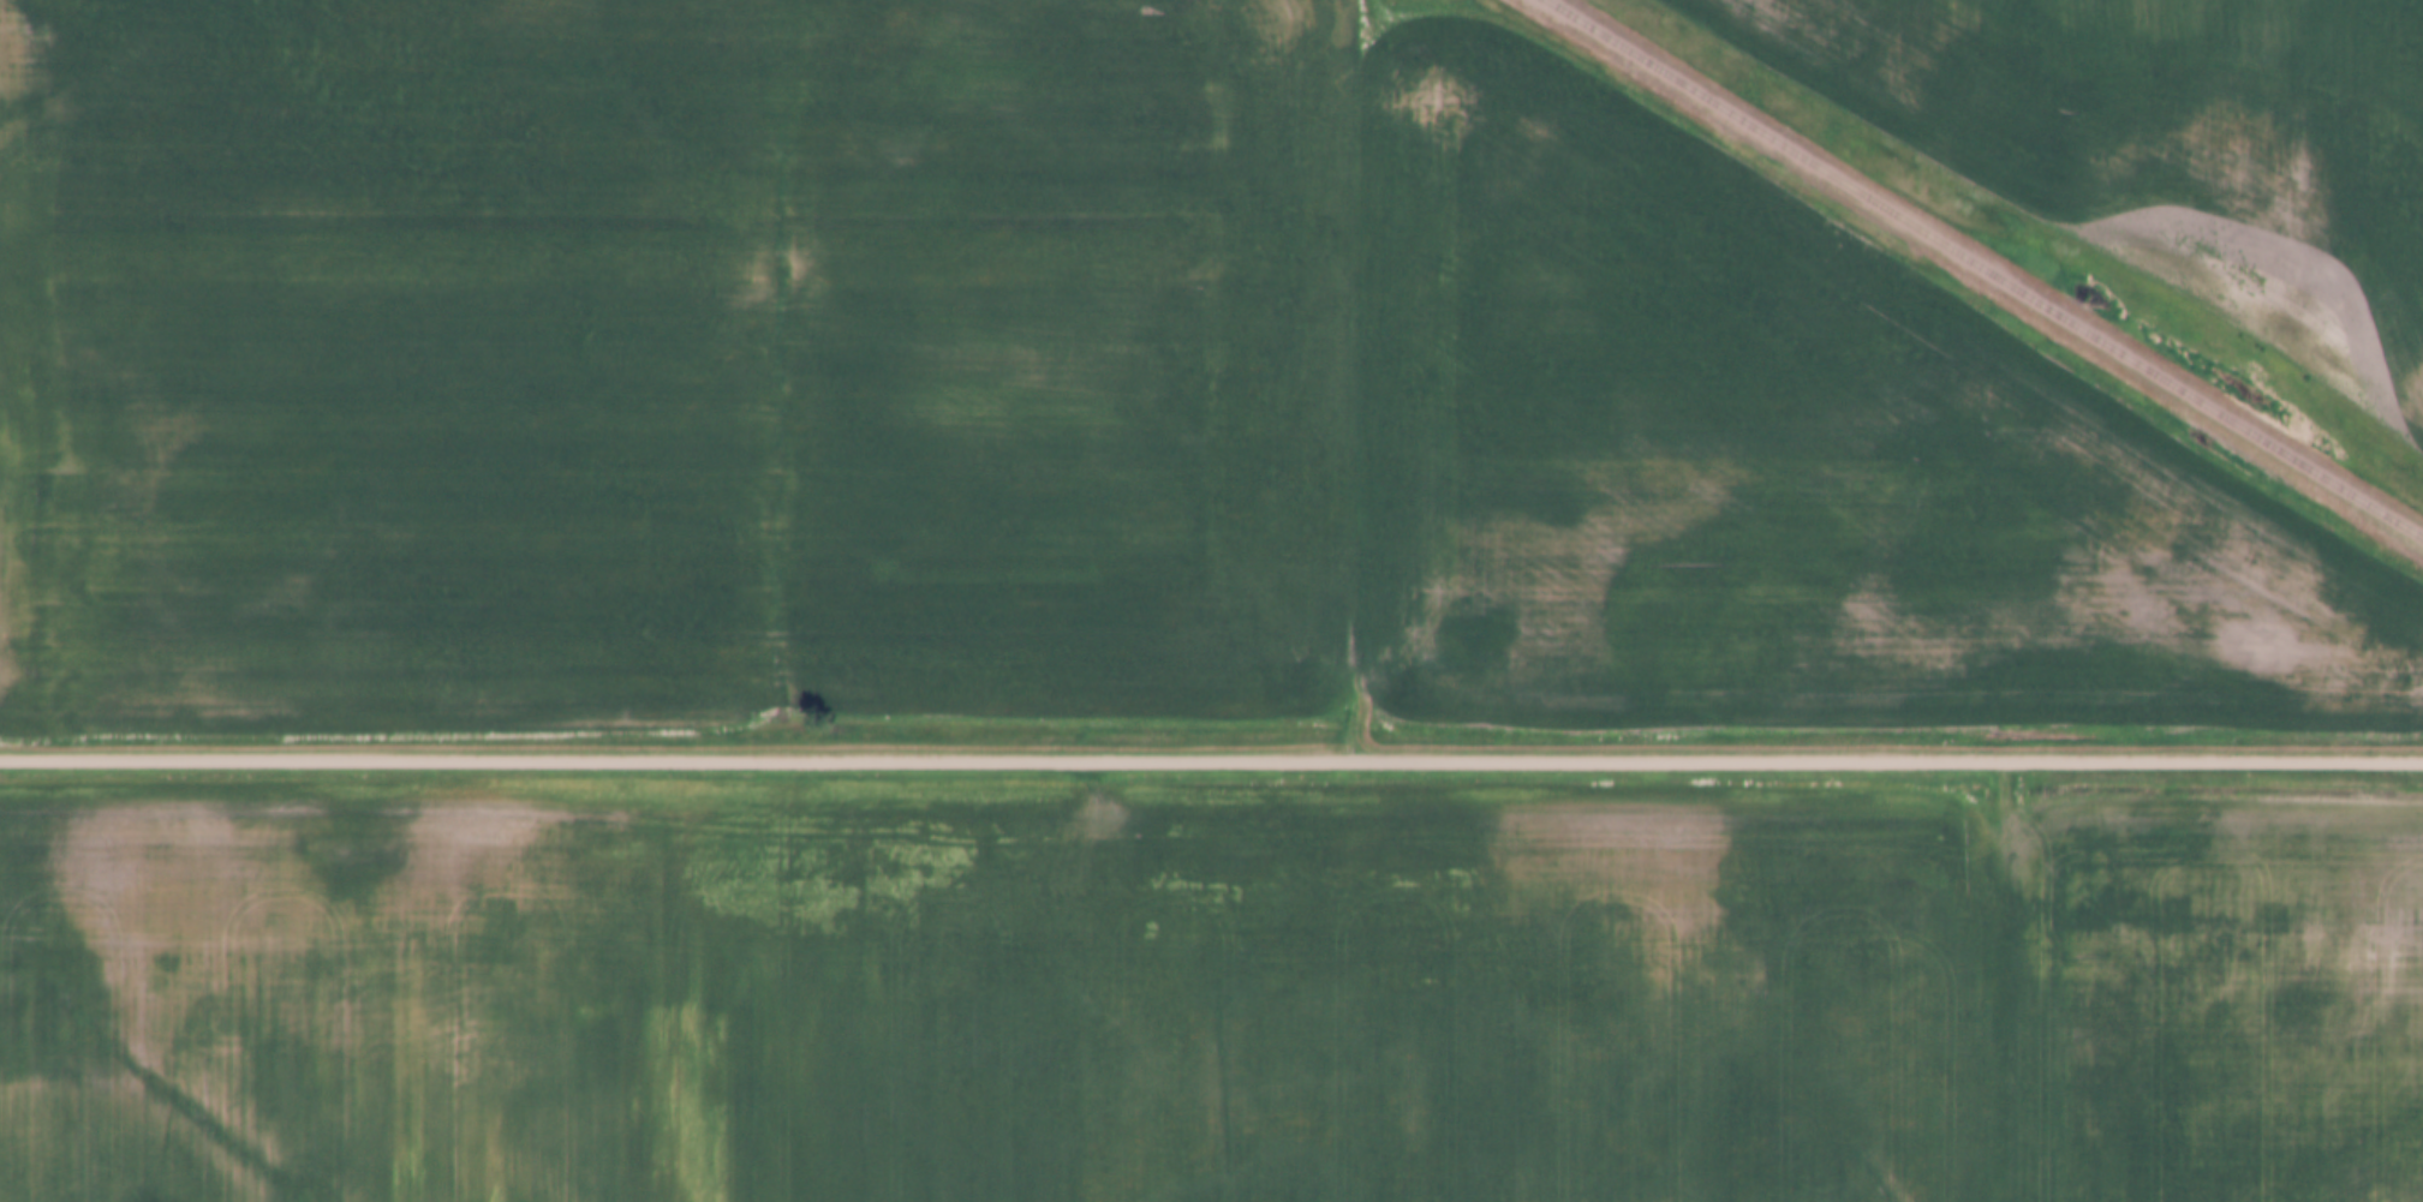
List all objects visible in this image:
railway: (1981, 268)
road: (1326, 384)
road: (1211, 763)

